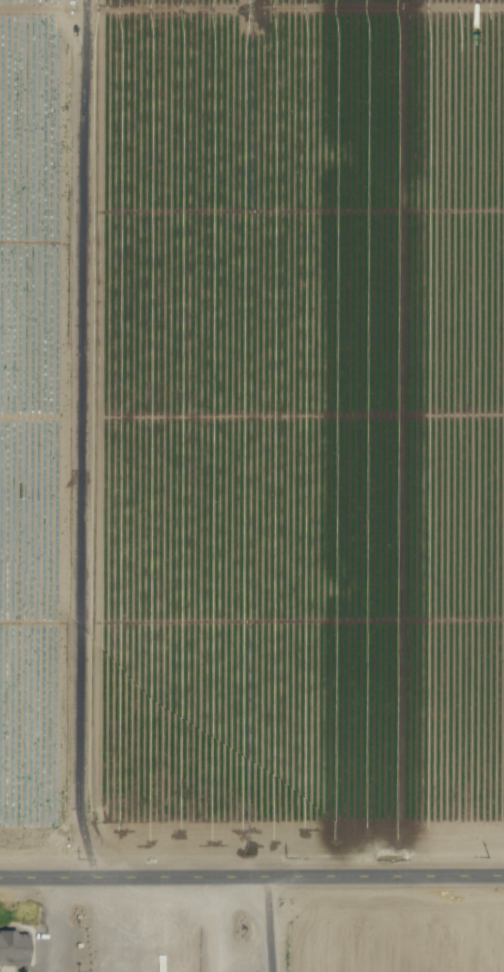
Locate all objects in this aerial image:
road: (252, 882)
building: (11, 948)

